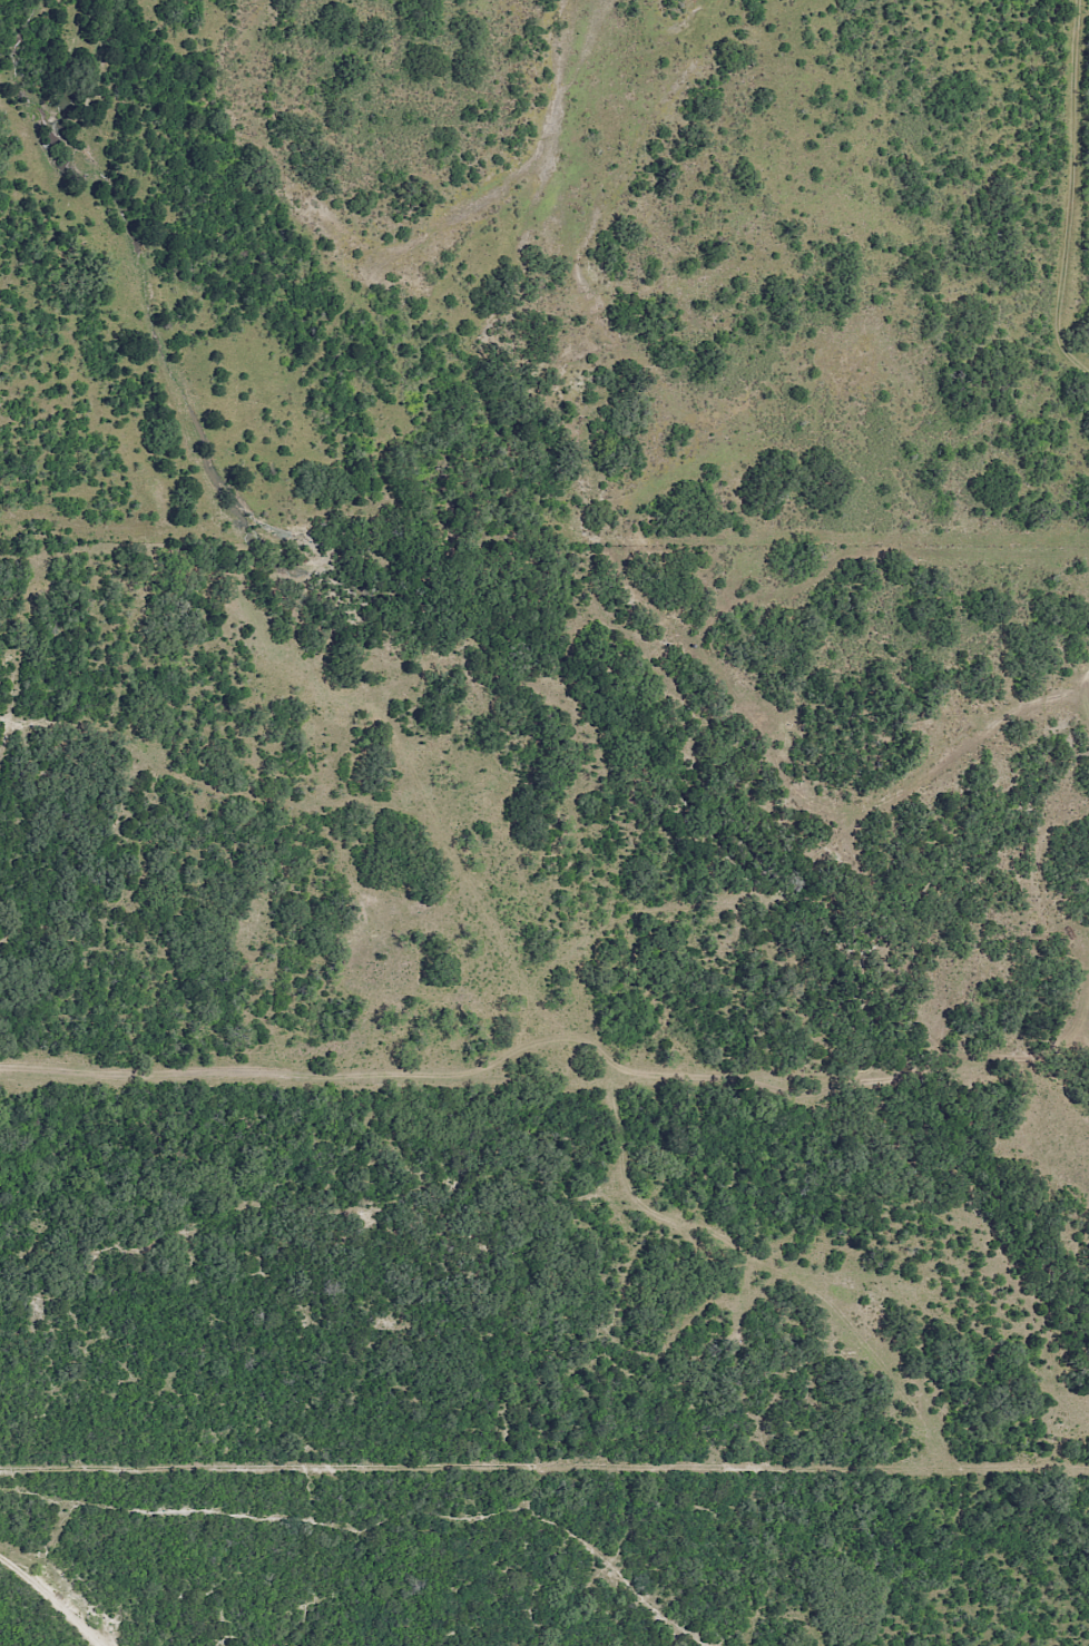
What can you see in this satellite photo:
road: (1066, 194)
road: (595, 885)
road: (422, 1231)
road: (391, 1518)
road: (62, 1589)

